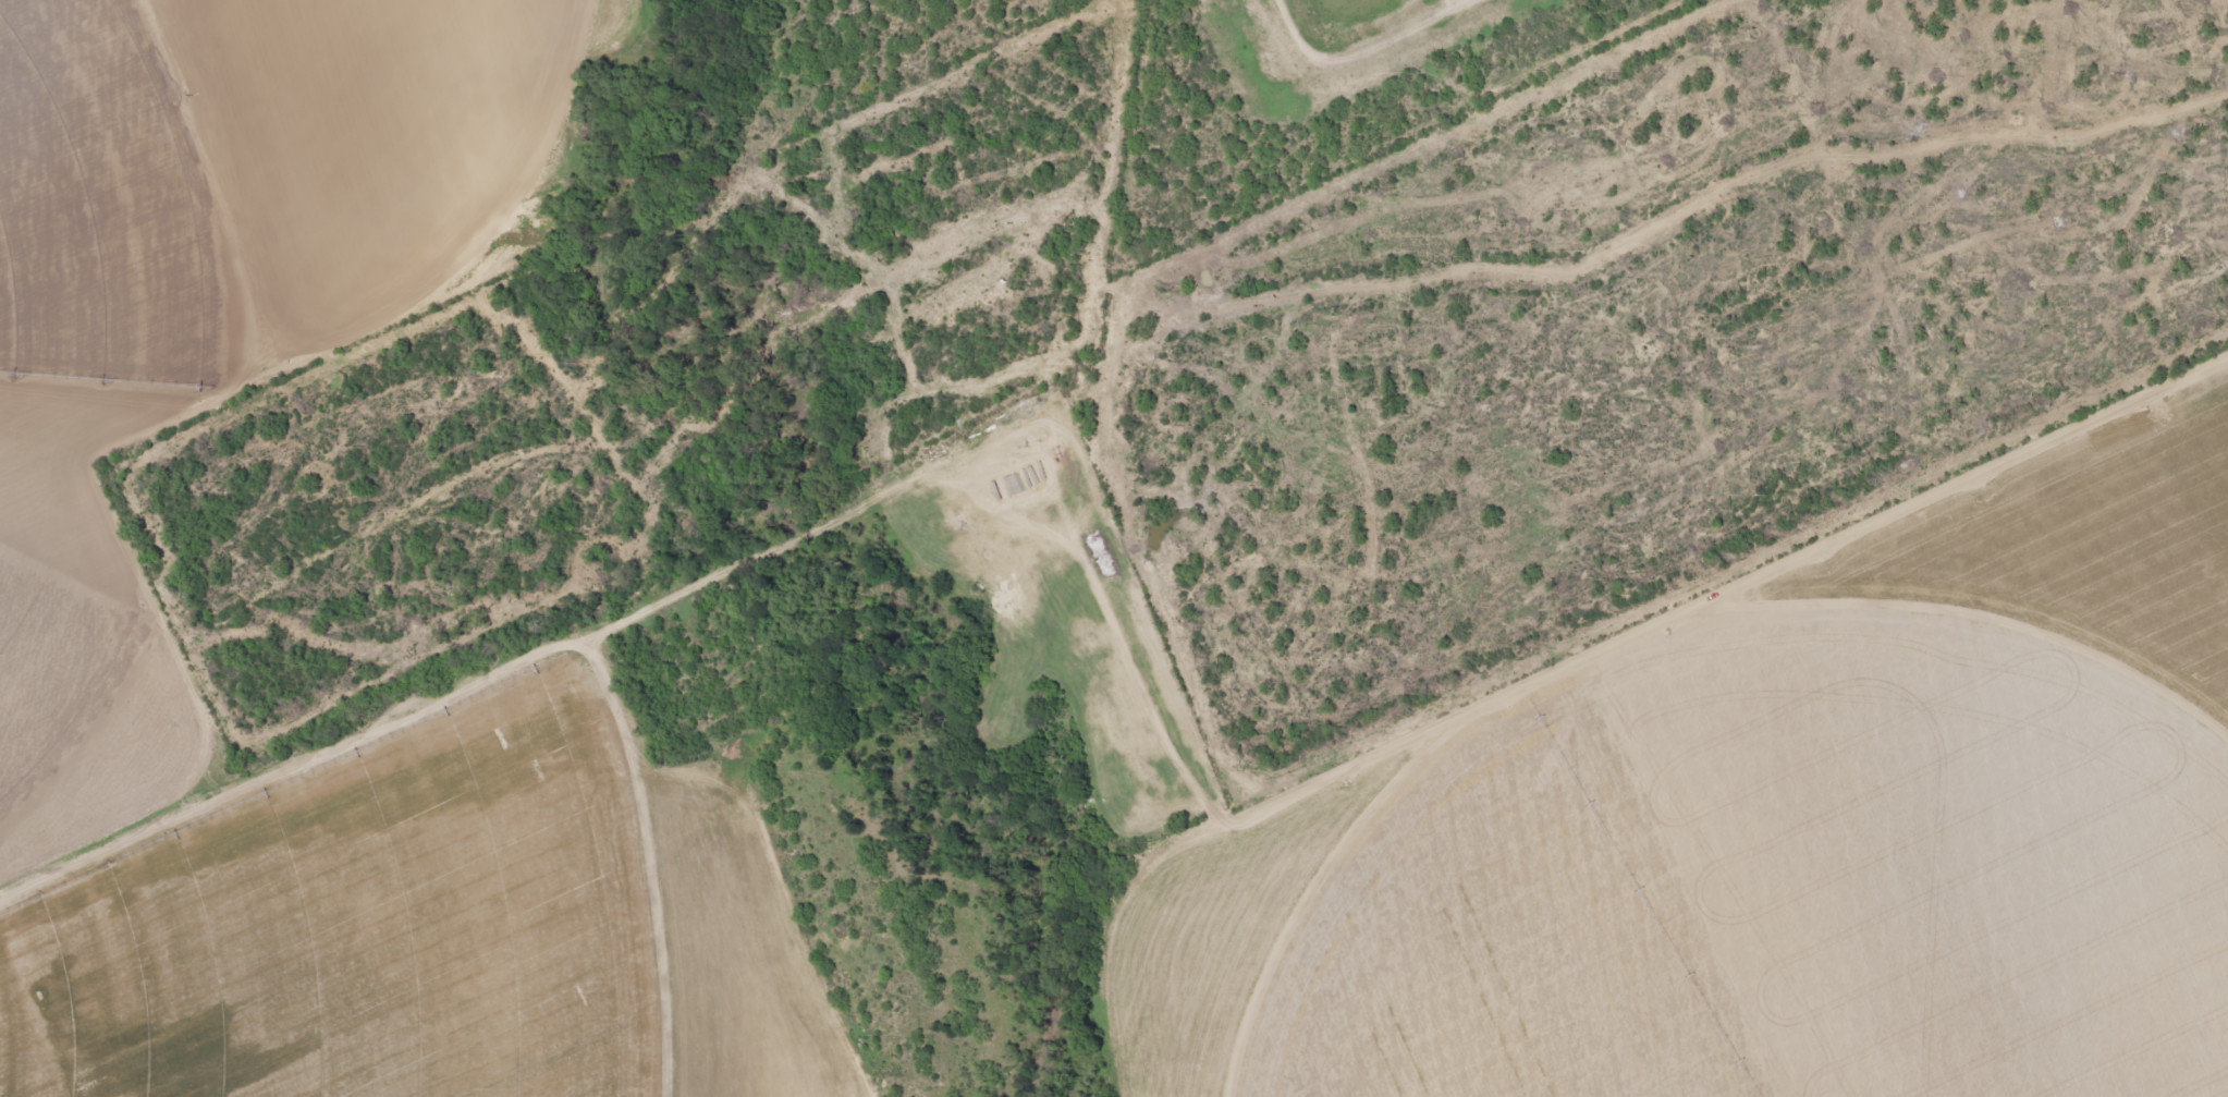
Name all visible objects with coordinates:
road: (2129, 1051)

